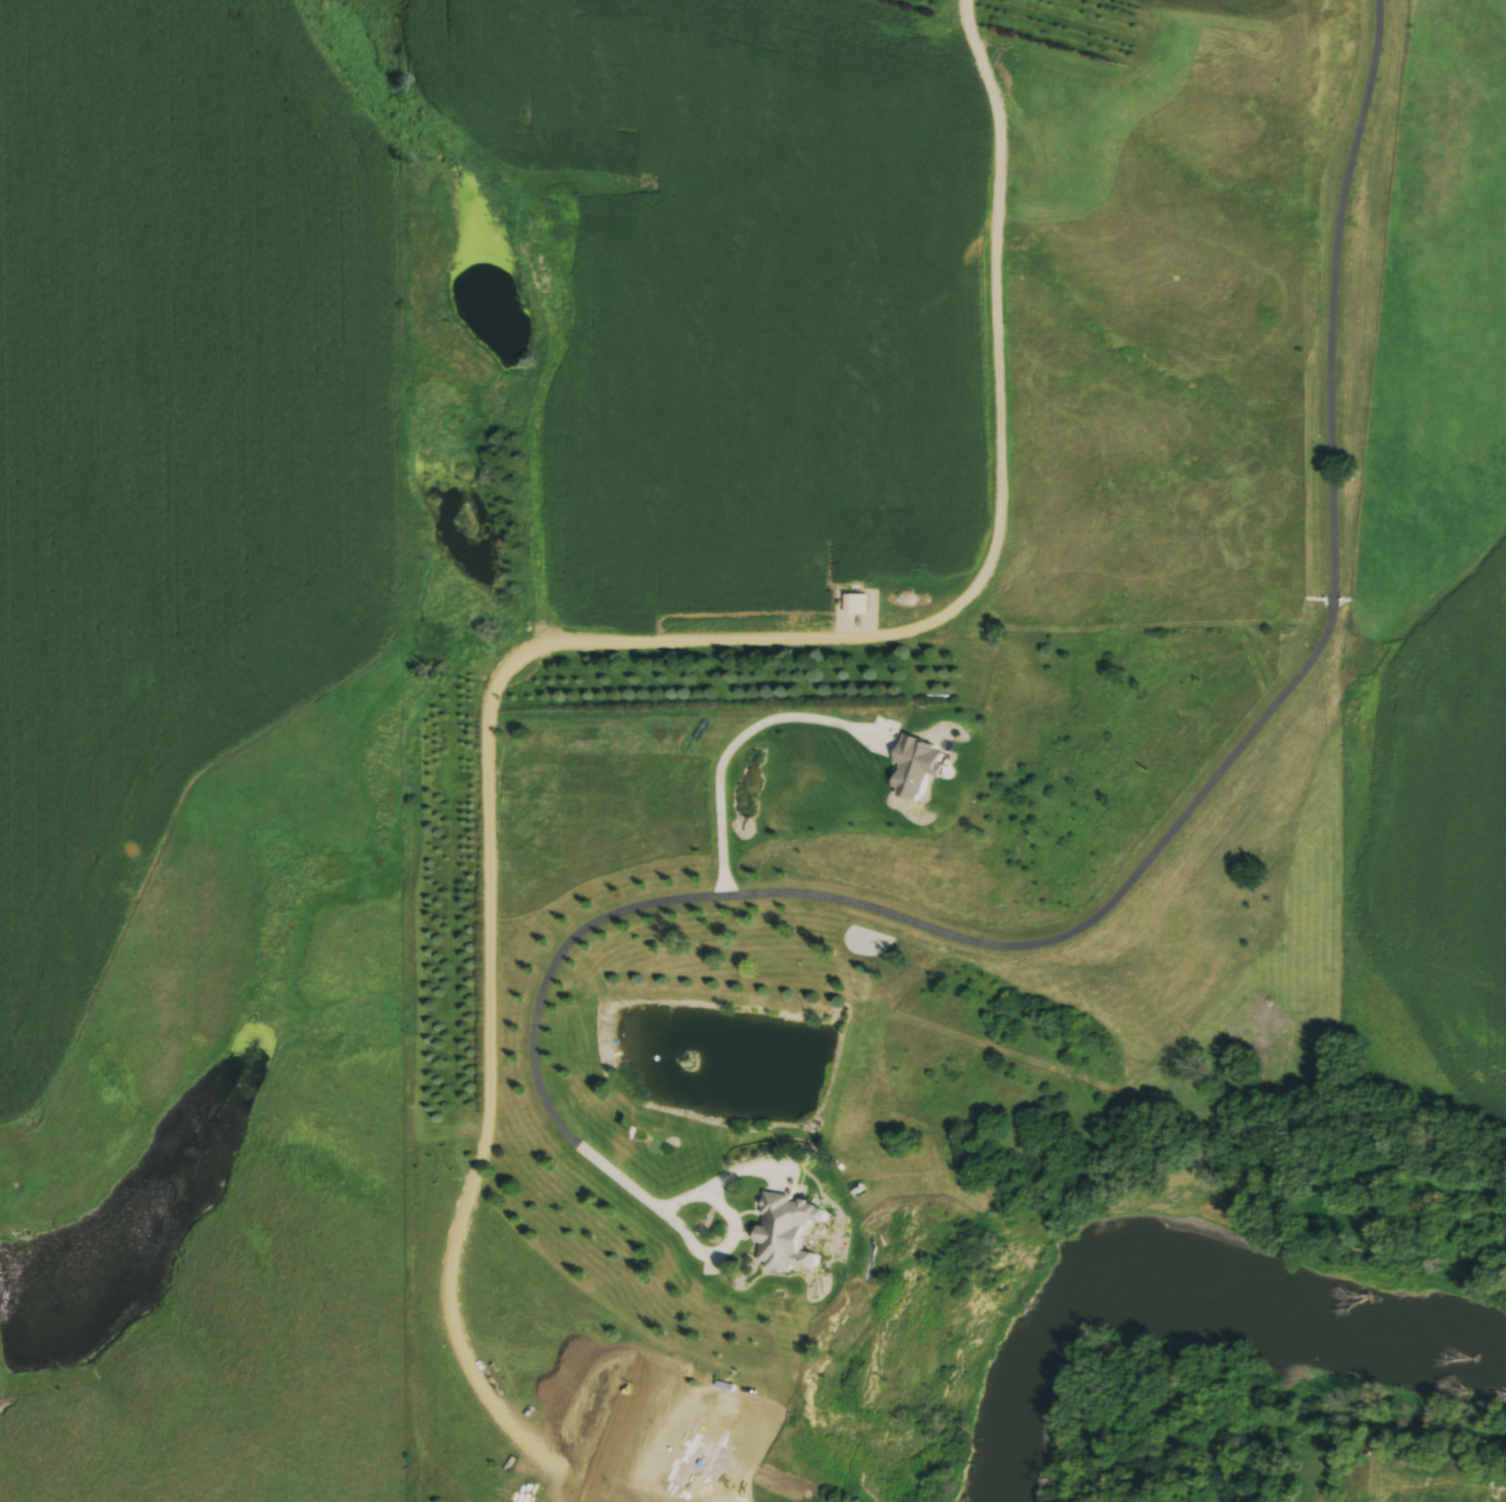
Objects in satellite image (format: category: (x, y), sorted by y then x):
crop: (172, 447)
road: (733, 745)
building: (921, 769)
road: (1132, 874)
road: (730, 1227)
building: (793, 1236)
river: (1178, 1260)

